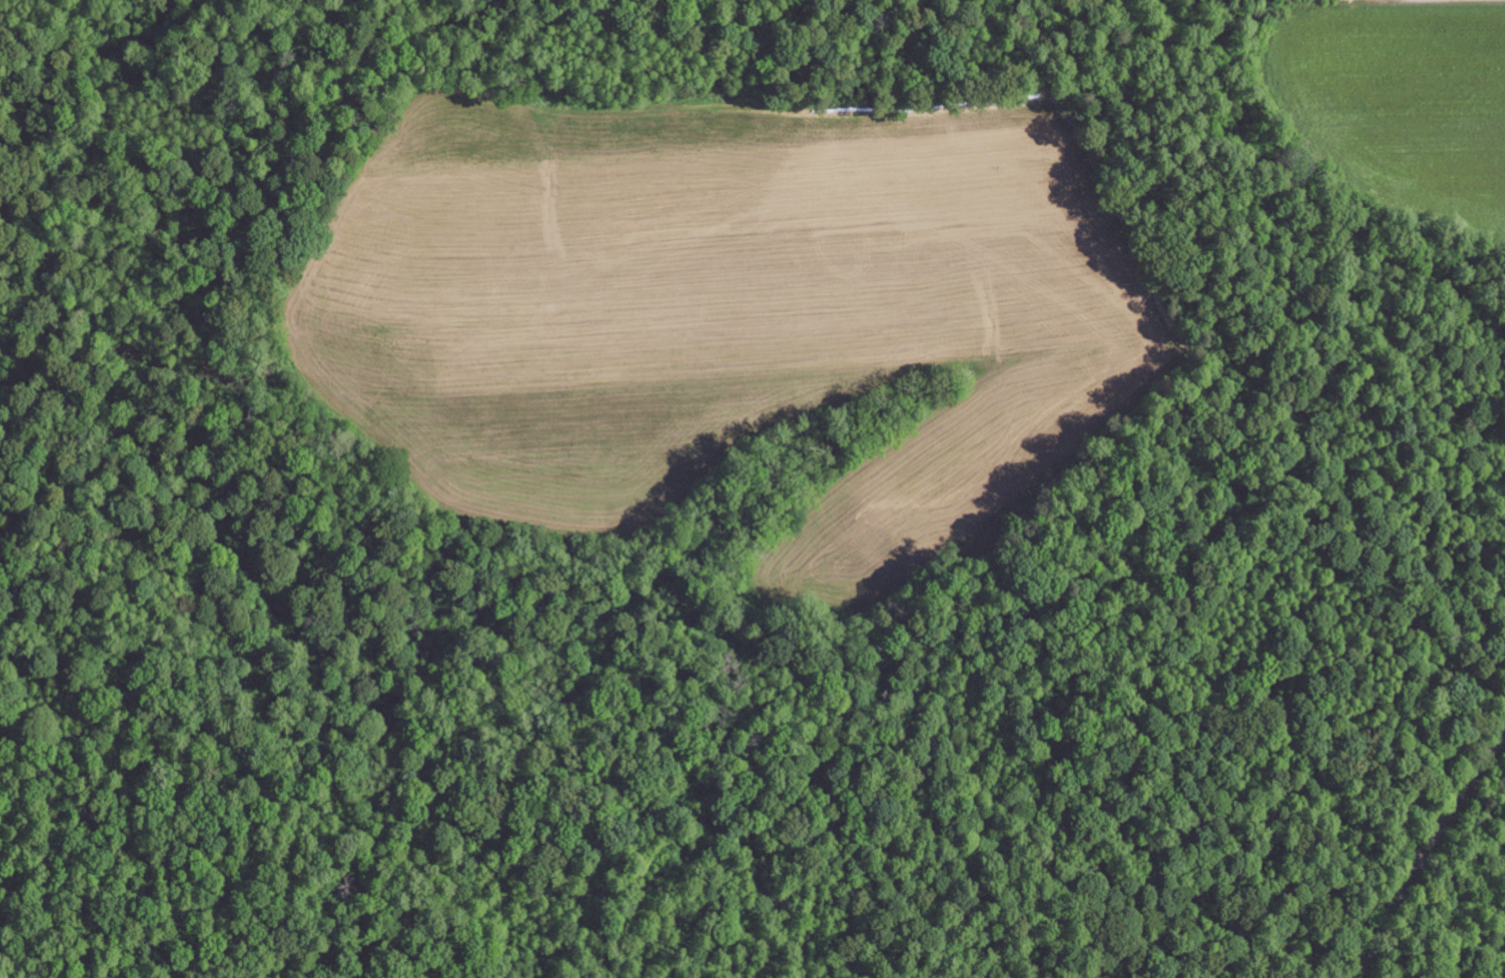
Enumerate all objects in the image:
park: (1367, 2)
road: (1427, 852)

